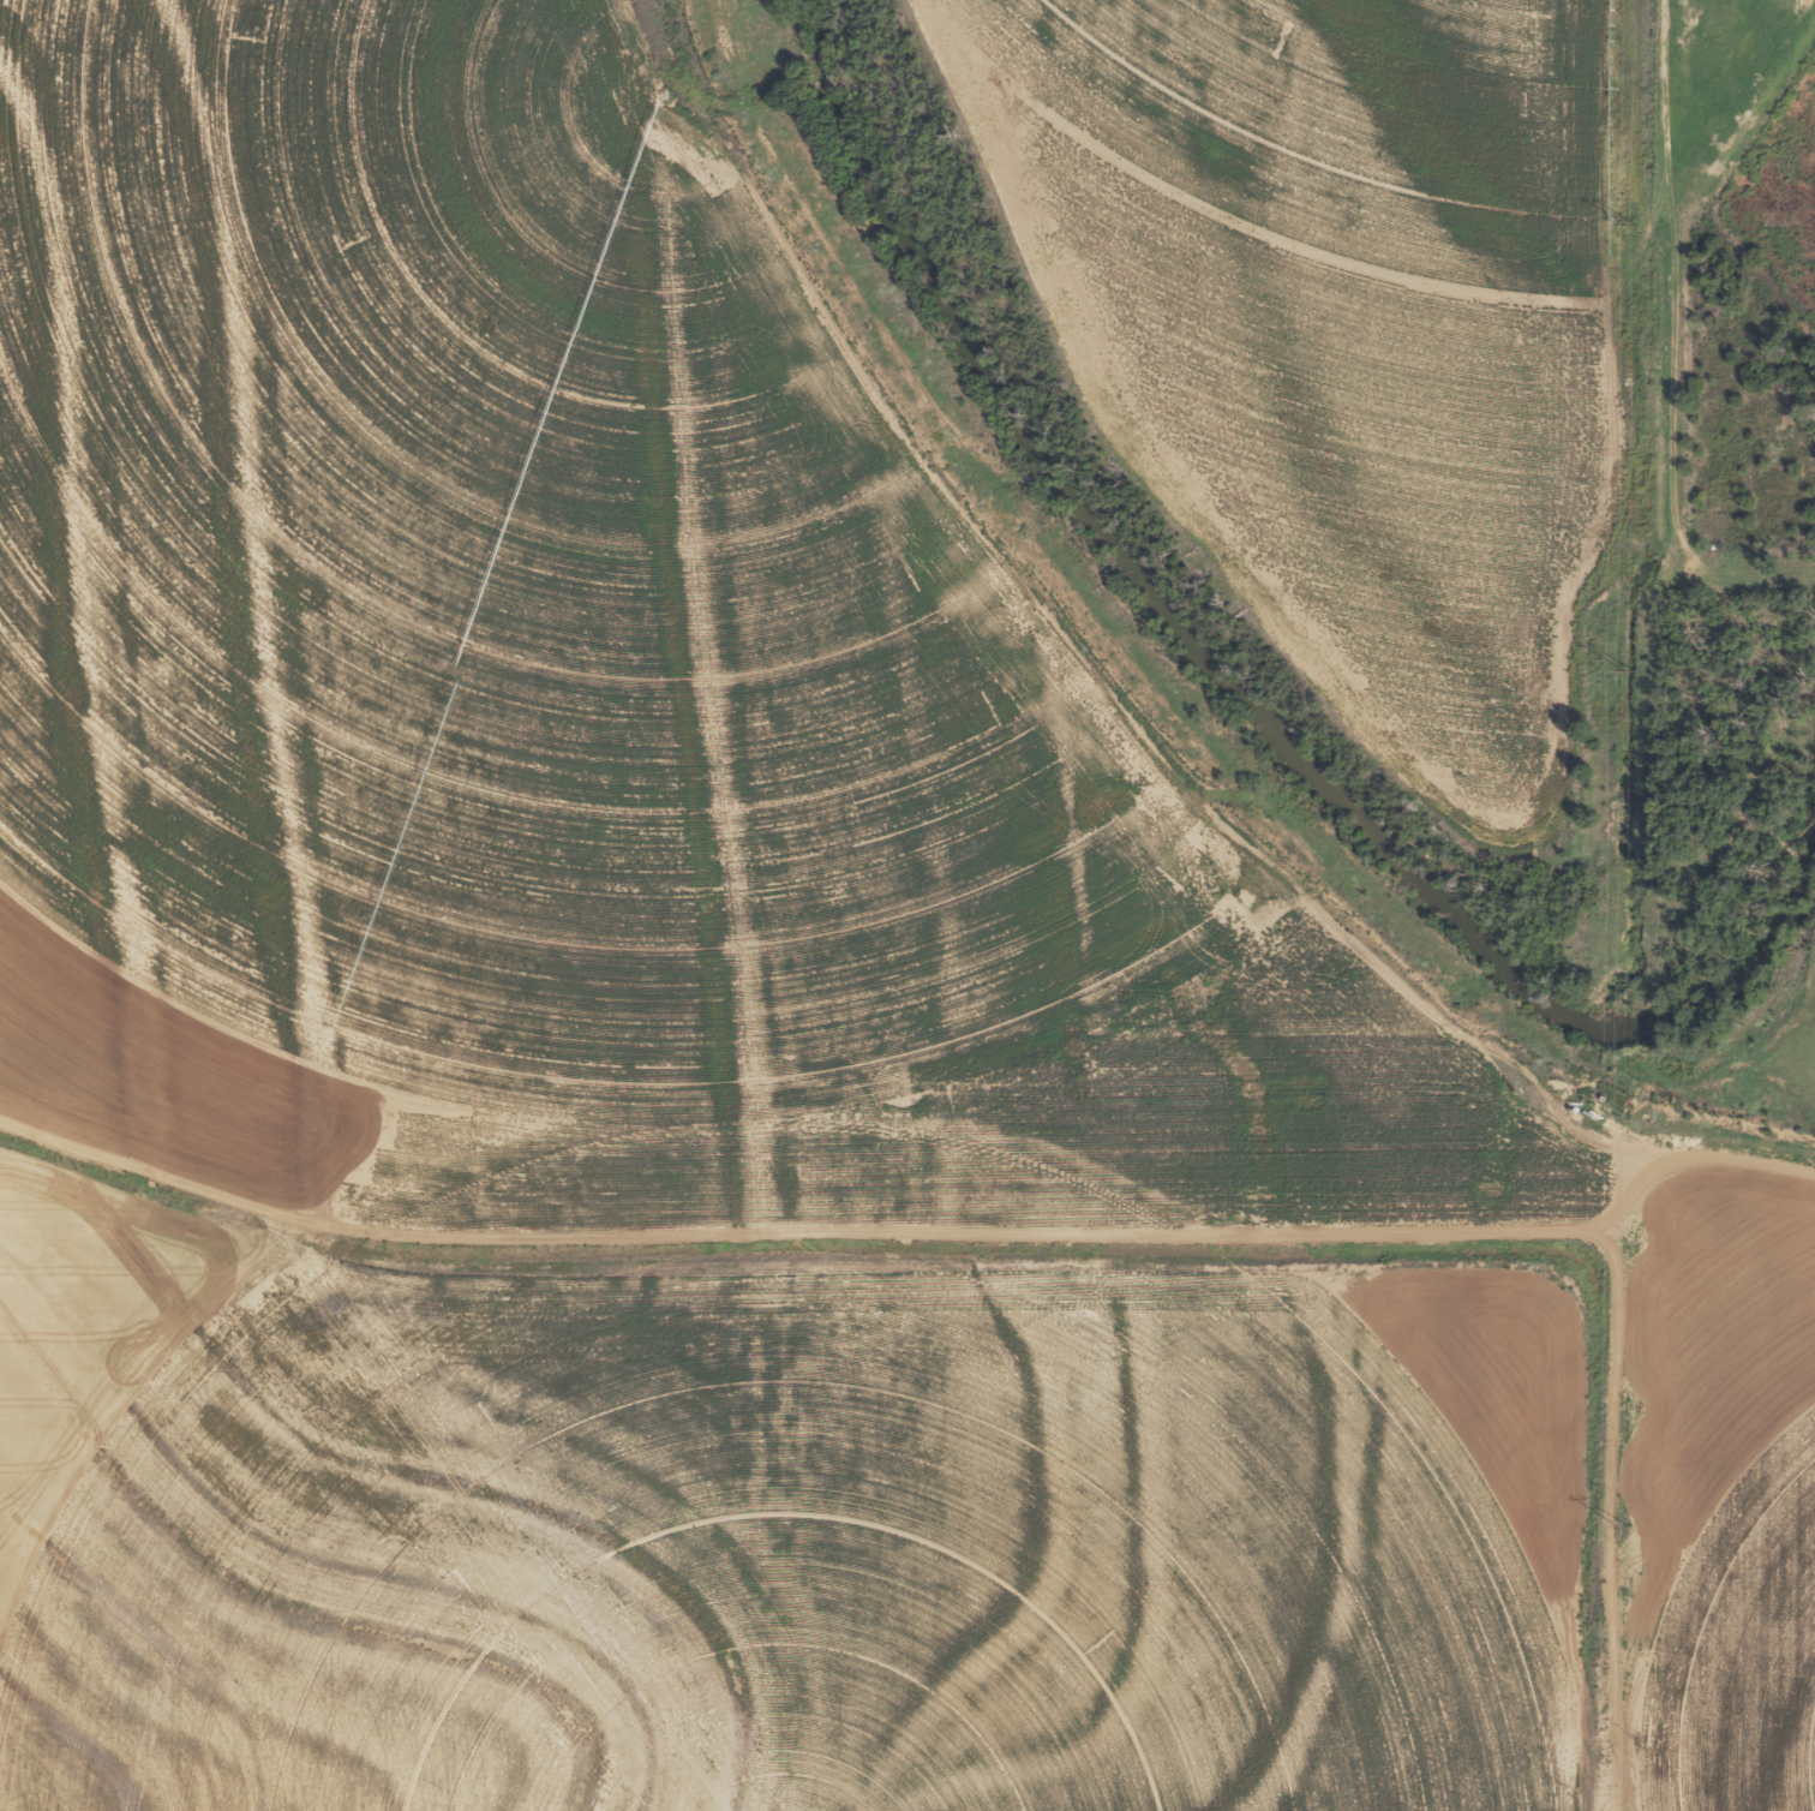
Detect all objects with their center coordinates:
power tower: (1631, 227)
road: (1613, 375)
power tower: (1634, 671)
power tower: (1627, 1117)
power tower: (1627, 1523)

